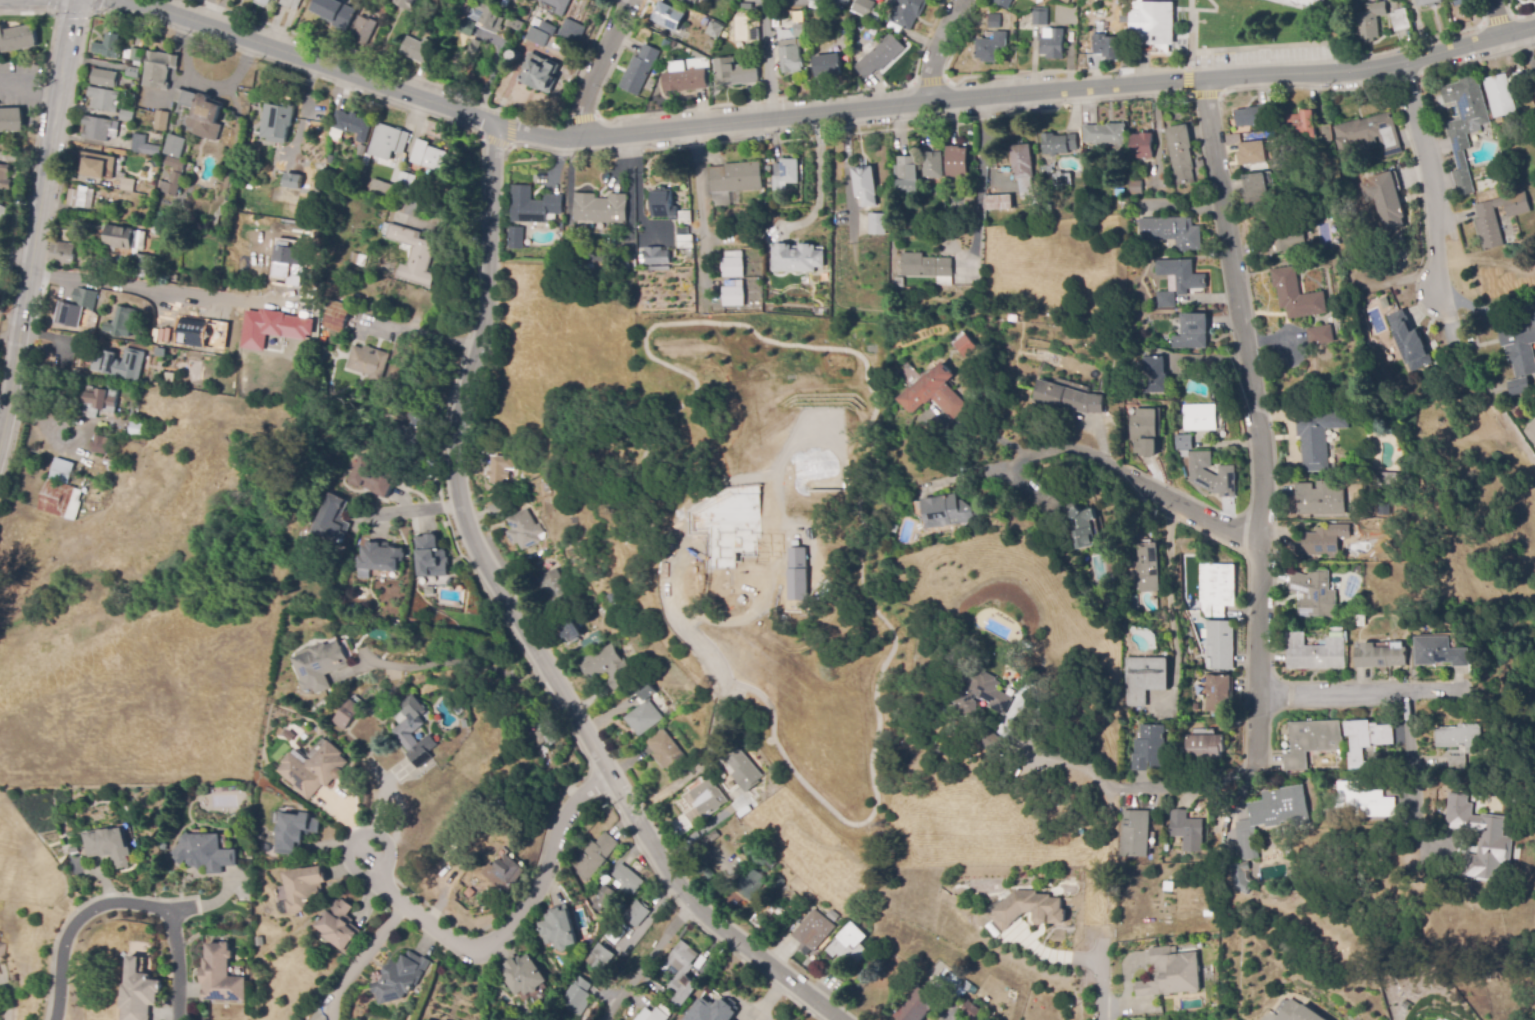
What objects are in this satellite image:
building: (1391, 0)
building: (691, 1)
building: (1065, 1)
building: (262, 2)
building: (831, 2)
building: (1428, 2)
building: (1464, 2)
building: (405, 3)
building: (1004, 3)
building: (290, 4)
building: (1303, 4)
building: (1363, 4)
building: (558, 5)
building: (1126, 5)
road: (49, 6)
road: (95, 6)
building: (747, 6)
building: (862, 7)
building: (381, 11)
road: (32, 12)
building: (334, 12)
building: (906, 12)
building: (1040, 16)
building: (489, 17)
building: (669, 17)
building: (798, 17)
road: (1495, 17)
road: (1513, 17)
road: (1496, 19)
building: (1401, 20)
building: (994, 21)
building: (1370, 21)
road: (70, 22)
building: (1156, 22)
building: (516, 25)
building: (467, 27)
building: (548, 28)
building: (574, 29)
building: (362, 30)
building: (715, 30)
building: (753, 33)
building: (1072, 34)
building: (17, 38)
building: (538, 40)
road: (67, 43)
building: (664, 44)
building: (1052, 44)
road: (1527, 45)
building: (473, 46)
building: (1106, 46)
building: (108, 47)
building: (990, 47)
building: (412, 48)
road: (937, 48)
building: (792, 49)
building: (514, 55)
building: (879, 55)
building: (135, 56)
road: (585, 59)
road: (1481, 59)
road: (381, 61)
road: (768, 63)
road: (1187, 63)
road: (282, 65)
building: (828, 65)
road: (595, 66)
building: (640, 69)
building: (158, 70)
building: (735, 72)
building: (132, 73)
building: (540, 73)
building: (103, 78)
building: (1519, 78)
building: (684, 81)
road: (929, 81)
road: (29, 84)
road: (1190, 93)
building: (1499, 96)
building: (103, 99)
road: (732, 103)
building: (200, 109)
road: (818, 114)
building: (126, 116)
building: (1252, 116)
road: (577, 118)
building: (11, 120)
building: (161, 121)
building: (277, 121)
building: (1300, 124)
building: (352, 125)
building: (1464, 125)
building: (96, 128)
road: (1404, 129)
building: (1500, 129)
building: (1325, 133)
road: (848, 134)
building: (1366, 134)
building: (1106, 135)
building: (385, 142)
building: (1058, 144)
building: (143, 146)
building: (175, 146)
building: (333, 146)
road: (509, 146)
building: (1142, 146)
building: (1252, 153)
building: (1181, 154)
building: (429, 156)
building: (1499, 156)
building: (1022, 161)
building: (956, 163)
building: (932, 165)
building: (97, 166)
building: (906, 169)
building: (785, 173)
road: (629, 174)
road: (981, 174)
road: (1433, 175)
building: (172, 177)
building: (6, 179)
building: (1062, 179)
building: (1501, 180)
building: (292, 181)
building: (405, 181)
building: (734, 181)
road: (819, 184)
building: (135, 186)
building: (865, 186)
building: (1135, 187)
building: (381, 189)
building: (1256, 191)
building: (81, 197)
building: (1383, 199)
building: (225, 202)
building: (998, 202)
building: (663, 205)
building: (534, 206)
road: (703, 206)
building: (601, 208)
building: (685, 217)
building: (1487, 220)
building: (876, 224)
building: (560, 226)
building: (1171, 232)
building: (1281, 235)
building: (516, 238)
building: (120, 240)
building: (684, 242)
building: (61, 253)
building: (413, 255)
building: (656, 256)
building: (641, 257)
building: (357, 259)
building: (797, 259)
building: (289, 260)
building: (142, 262)
building: (626, 263)
building: (733, 264)
building: (925, 266)
building: (659, 268)
road: (29, 272)
building: (1181, 275)
building: (898, 282)
building: (332, 289)
road: (150, 291)
building: (733, 293)
building: (1296, 295)
building: (84, 298)
building: (1165, 300)
building: (337, 316)
building: (120, 323)
building: (272, 327)
building: (1192, 332)
building: (202, 333)
road: (422, 335)
building: (1321, 335)
road: (10, 336)
building: (322, 340)
building: (1411, 341)
building: (1520, 345)
building: (966, 346)
building: (161, 353)
building: (368, 362)
building: (120, 364)
building: (1154, 375)
building: (416, 383)
building: (1521, 387)
building: (935, 393)
building: (1068, 398)
building: (100, 401)
building: (131, 415)
building: (1200, 418)
building: (1144, 432)
road: (980, 433)
building: (412, 436)
building: (1314, 441)
building: (1183, 442)
building: (100, 445)
building: (1182, 454)
building: (502, 470)
building: (62, 471)
building: (1184, 473)
building: (1212, 475)
building: (375, 478)
building: (110, 483)
road: (1024, 483)
road: (1145, 486)
road: (1262, 491)
building: (58, 498)
building: (1319, 499)
building: (497, 508)
road: (413, 510)
building: (946, 511)
building: (332, 520)
building: (1073, 521)
building: (895, 529)
building: (524, 530)
building: (1320, 542)
building: (543, 552)
building: (379, 557)
building: (430, 557)
building: (1144, 569)
building: (796, 573)
building: (554, 586)
building: (1216, 590)
building: (1315, 592)
road: (1168, 607)
building: (1343, 607)
building: (1361, 621)
road: (518, 622)
building: (571, 631)
building: (591, 641)
building: (1219, 645)
building: (1318, 651)
building: (1439, 652)
building: (1379, 656)
building: (321, 666)
road: (454, 666)
building: (608, 667)
building: (1144, 679)
road: (1356, 690)
building: (1218, 693)
building: (981, 694)
building: (646, 712)
building: (347, 715)
building: (403, 733)
building: (539, 733)
building: (1365, 740)
building: (1311, 741)
building: (989, 743)
building: (1459, 743)
building: (1204, 747)
road: (1417, 747)
building: (1151, 749)
building: (939, 750)
building: (666, 751)
building: (549, 762)
road: (1082, 763)
building: (449, 767)
building: (742, 767)
building: (315, 770)
building: (1446, 791)
building: (707, 798)
building: (1364, 802)
building: (1271, 817)
road: (702, 829)
building: (1187, 830)
building: (294, 832)
building: (1136, 834)
building: (711, 836)
building: (1481, 841)
building: (108, 846)
building: (204, 851)
building: (594, 856)
building: (770, 858)
building: (502, 873)
building: (701, 875)
building: (1241, 877)
building: (605, 880)
building: (627, 880)
building: (753, 880)
building: (776, 882)
building: (303, 887)
building: (786, 894)
building: (603, 897)
road: (123, 903)
building: (1033, 910)
building: (636, 913)
building: (832, 916)
building: (339, 926)
road: (506, 926)
building: (557, 927)
building: (812, 932)
building: (615, 935)
building: (849, 946)
building: (3, 949)
building: (601, 955)
road: (356, 956)
building: (682, 962)
road: (638, 967)
building: (220, 972)
building: (1171, 972)
building: (521, 974)
building: (399, 978)
road: (1100, 990)
building: (138, 991)
building: (684, 991)
building: (960, 991)
building: (576, 997)
building: (917, 1005)
building: (711, 1008)
building: (972, 1010)
building: (1297, 1012)
building: (652, 1015)
building: (424, 1019)
road: (1268, 1019)

